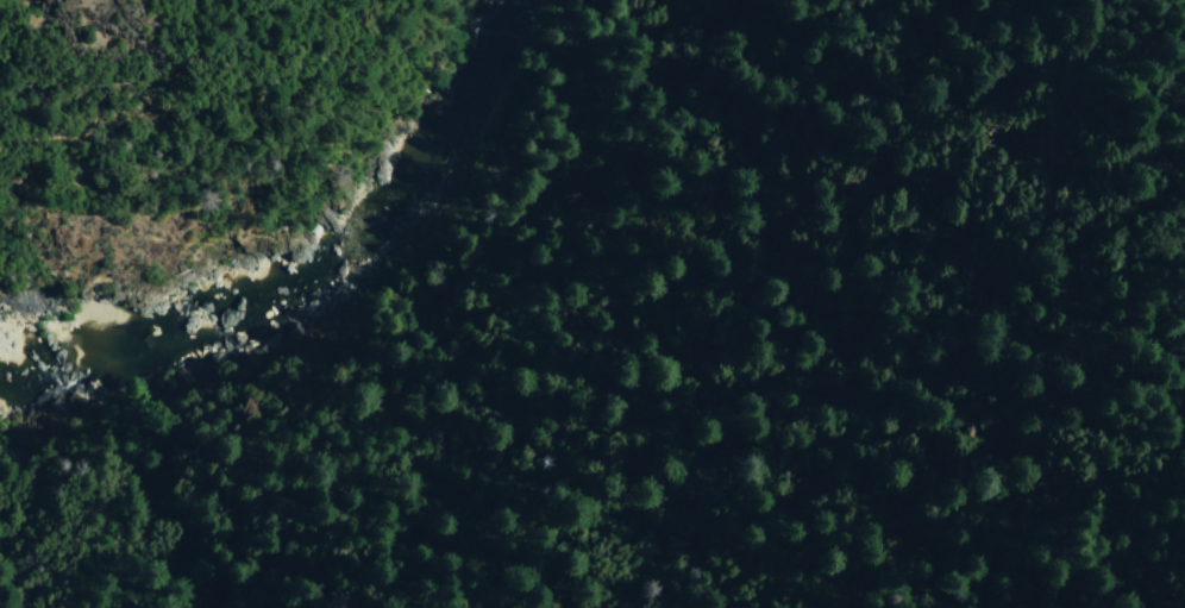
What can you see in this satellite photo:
river: (502, 84)
road: (178, 94)
river: (307, 274)

